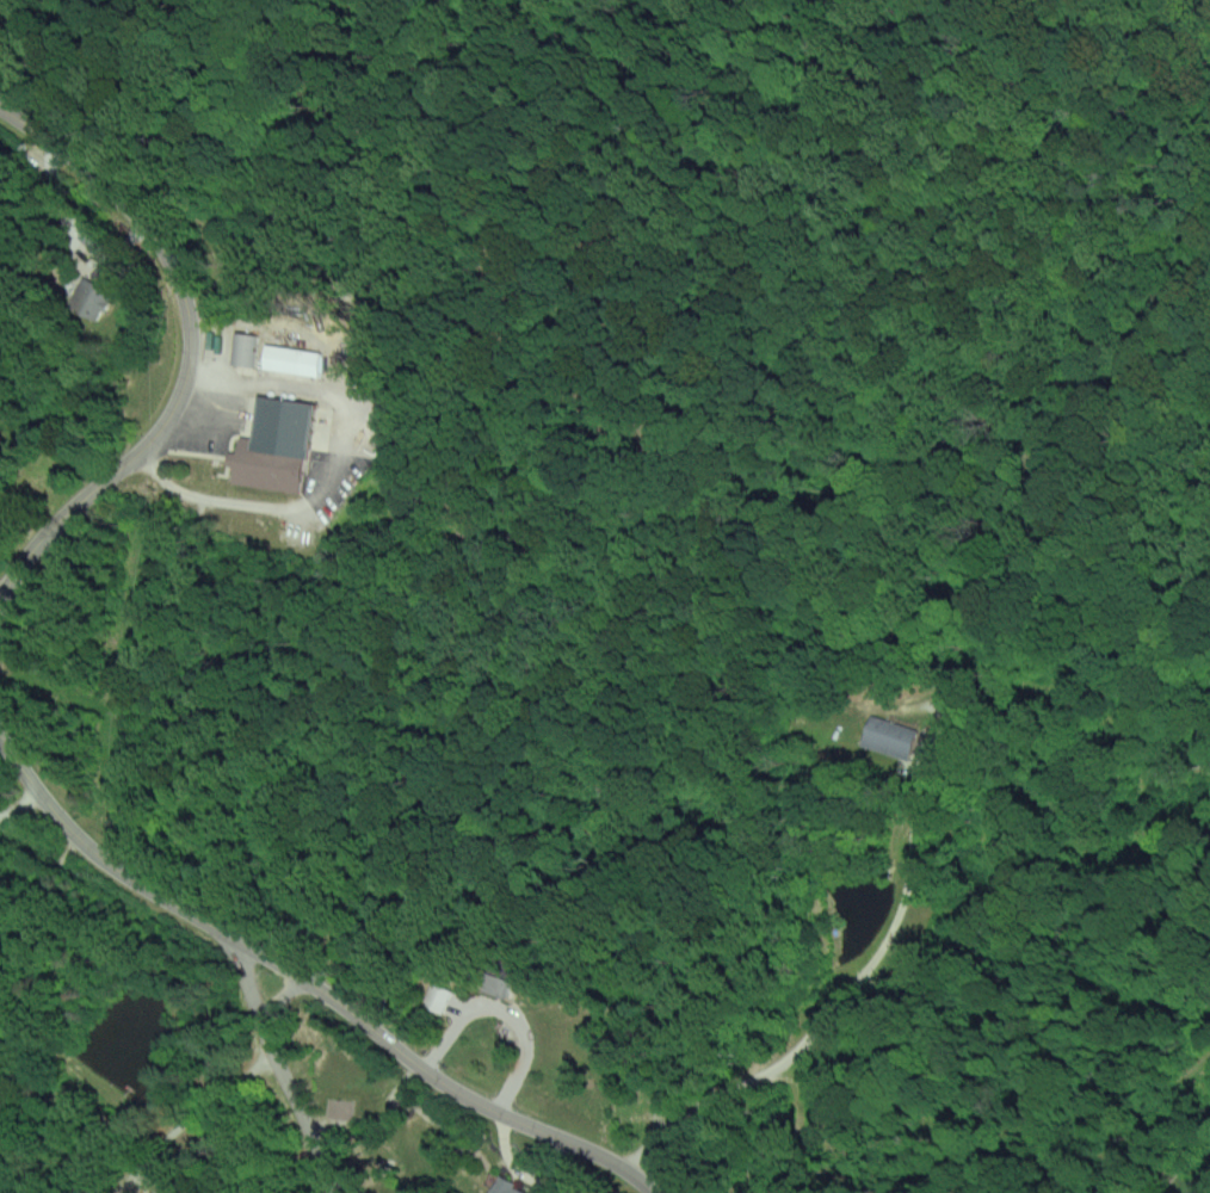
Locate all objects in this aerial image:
road: (192, 350)
building: (248, 352)
building: (297, 363)
building: (283, 449)
road: (2, 596)
building: (887, 736)
road: (18, 806)
road: (38, 905)
road: (310, 977)
building: (494, 984)
building: (437, 997)
road: (838, 1008)
road: (279, 1065)
road: (230, 1078)
building: (500, 1186)

